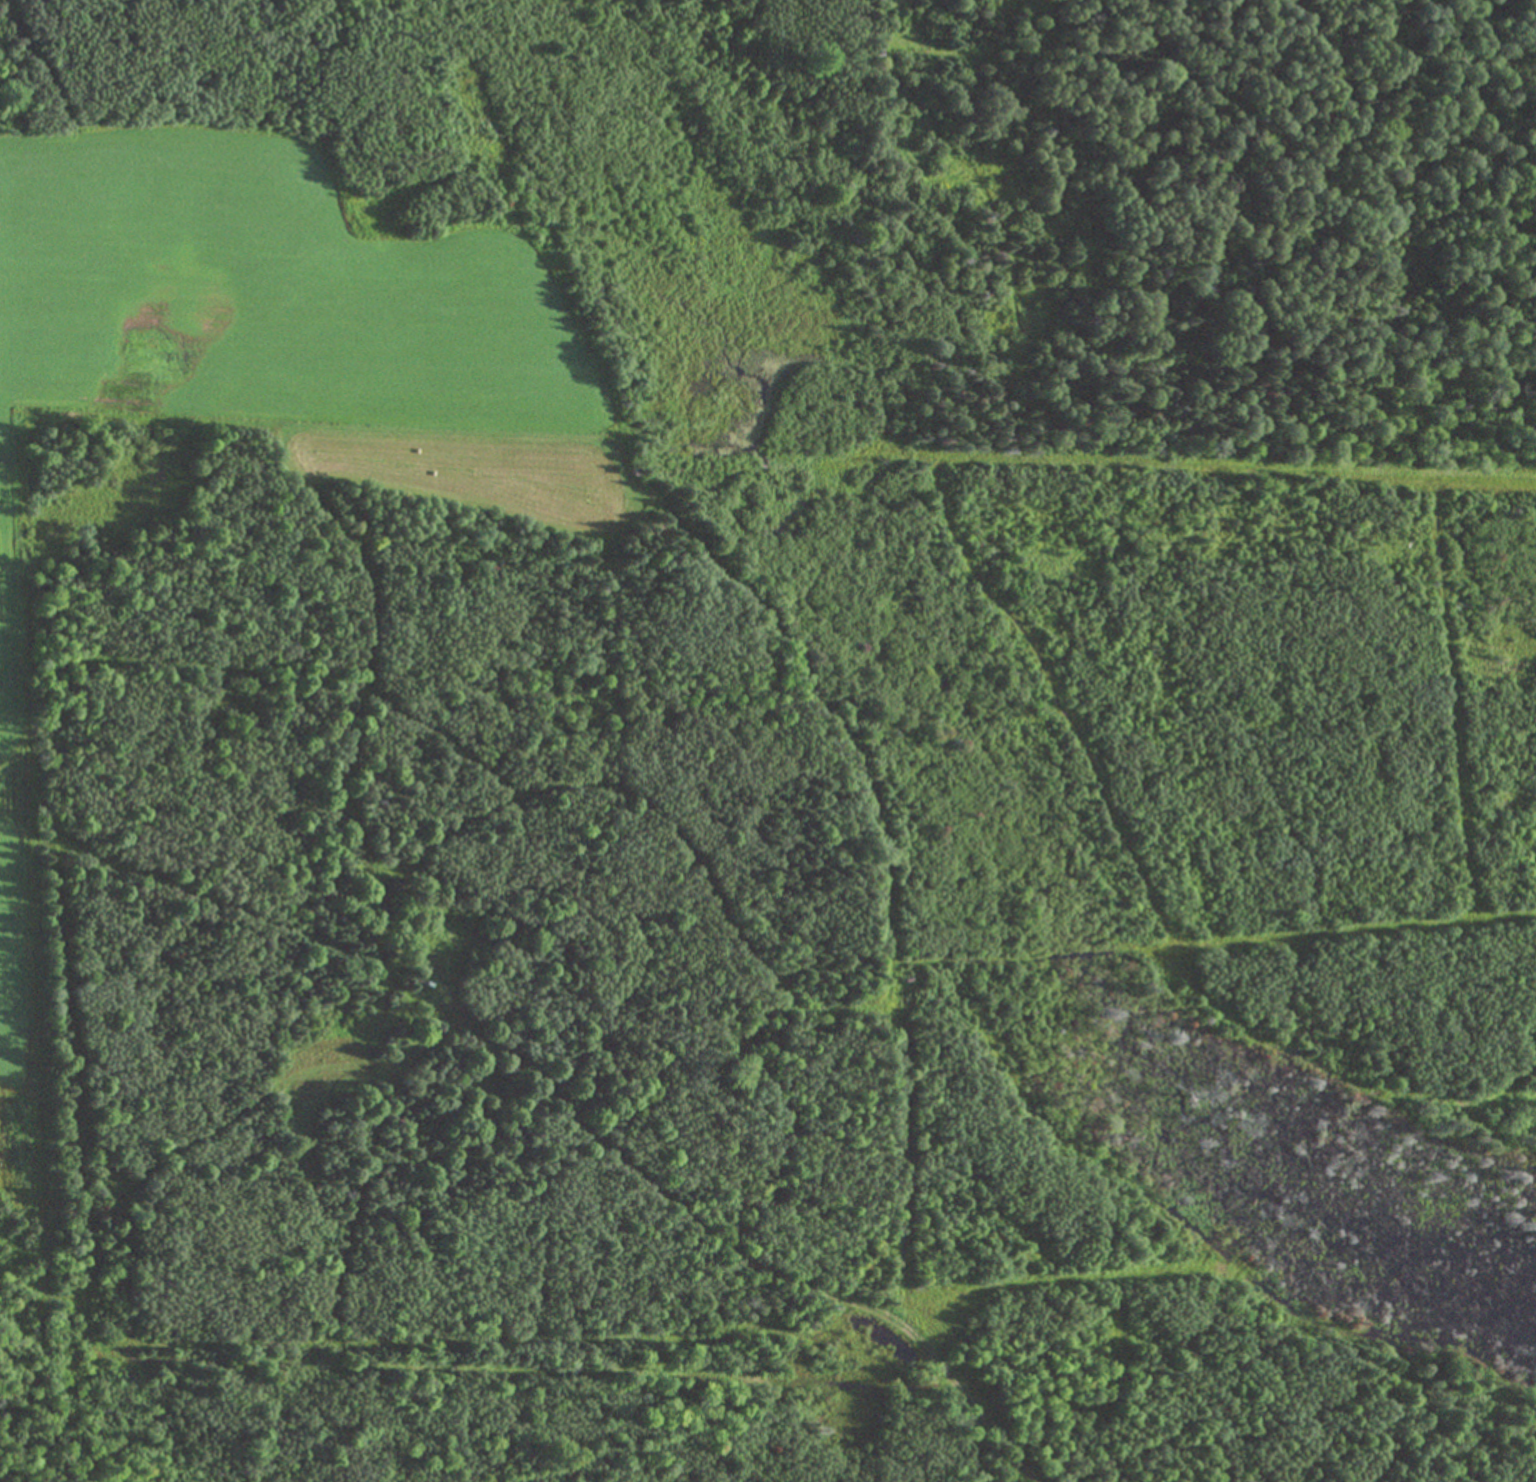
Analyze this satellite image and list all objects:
road: (11, 407)

